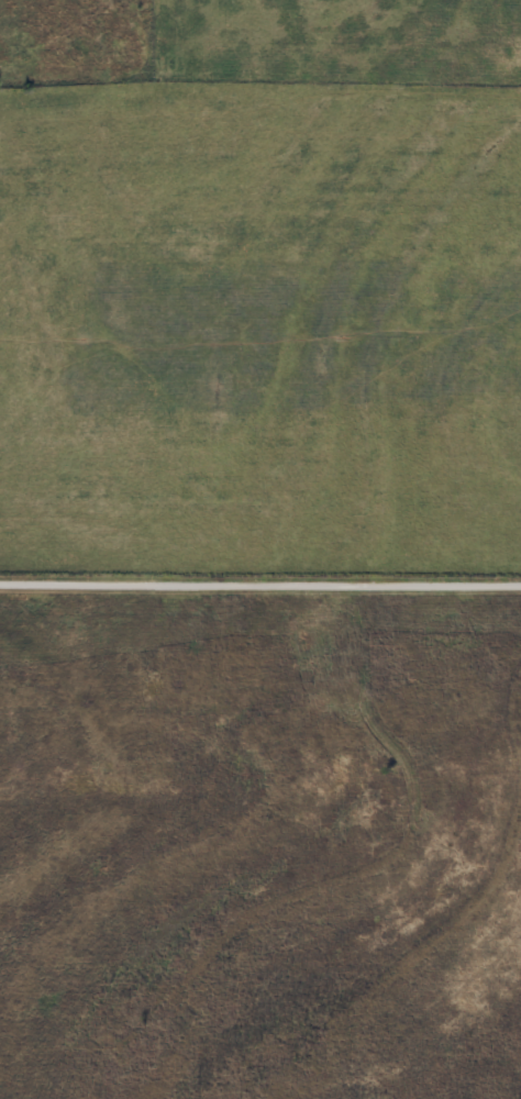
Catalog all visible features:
road: (260, 588)

